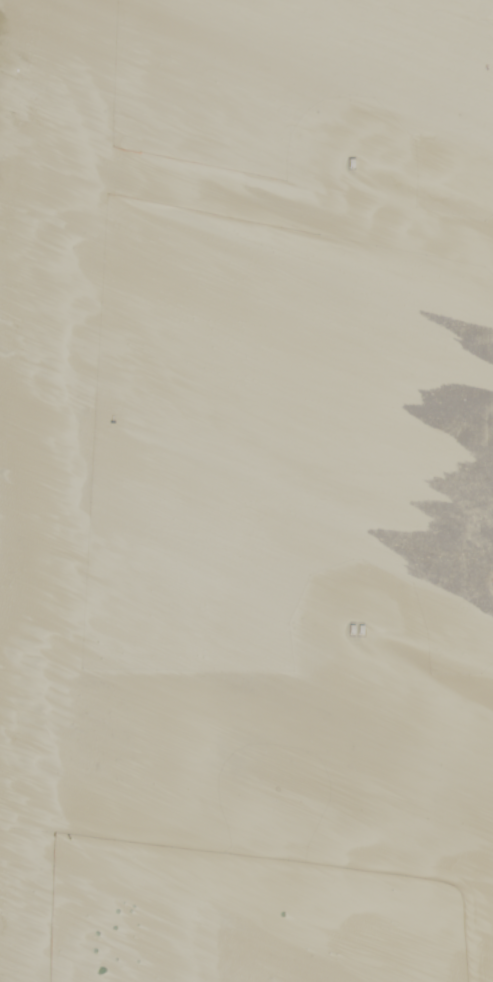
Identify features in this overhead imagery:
park: (402, 471)
park: (157, 502)

